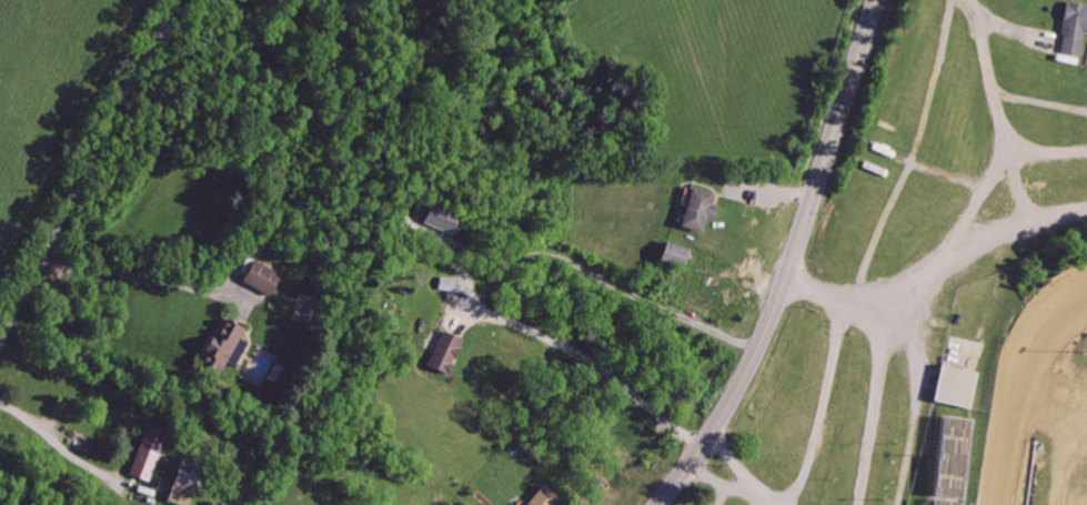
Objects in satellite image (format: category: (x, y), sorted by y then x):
building: (1075, 27)
road: (1046, 105)
road: (1049, 156)
road: (84, 169)
road: (1006, 174)
building: (698, 211)
building: (443, 220)
building: (677, 253)
road: (792, 263)
road: (150, 275)
building: (262, 277)
road: (606, 282)
building: (445, 284)
road: (926, 343)
building: (227, 347)
building: (445, 352)
road: (580, 353)
building: (957, 385)
raceway: (1023, 385)
raceway: (1029, 385)
road: (61, 442)
building: (956, 455)
building: (147, 457)
road: (748, 472)
building: (182, 483)
building: (543, 497)
building: (947, 502)

